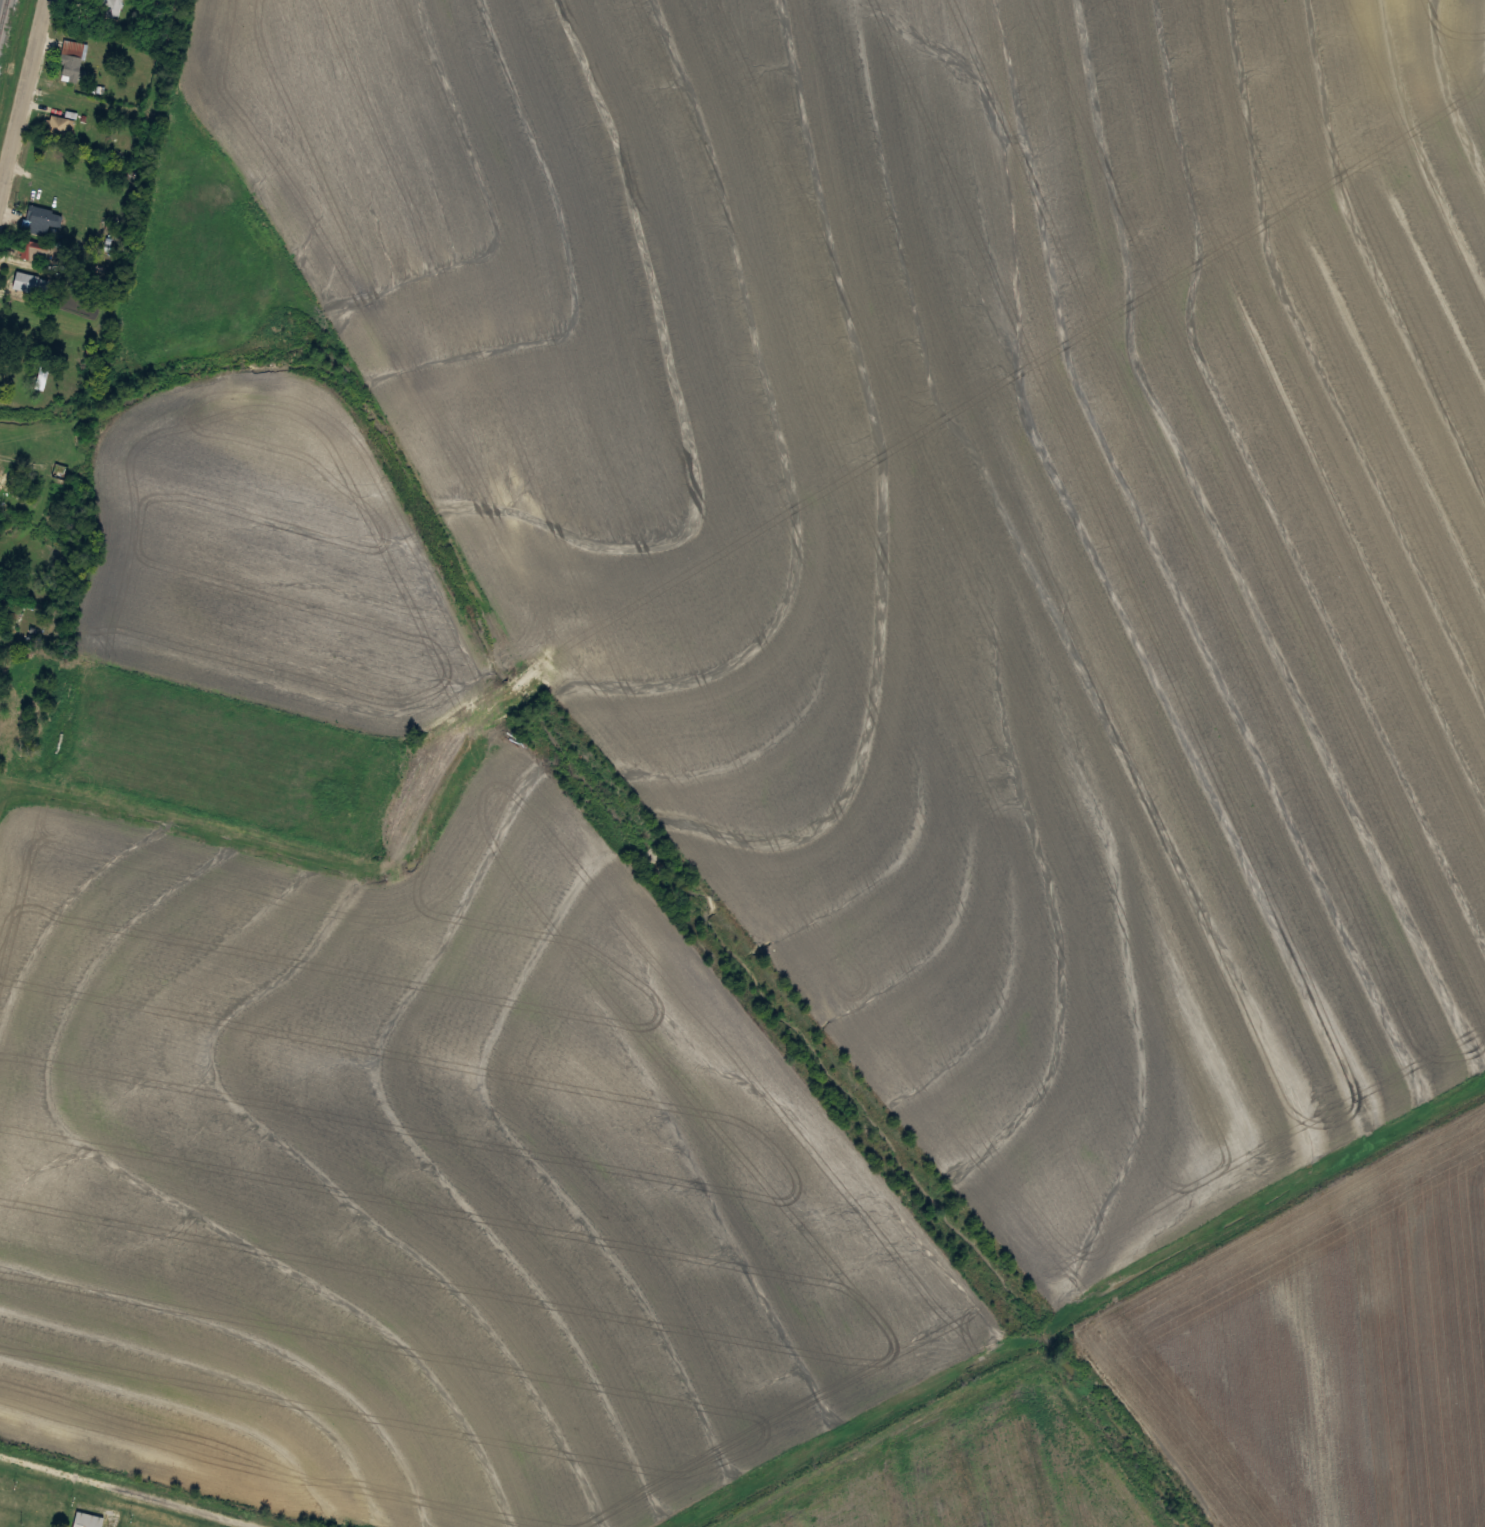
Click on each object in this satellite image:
railway: (2, 12)
building: (71, 56)
road: (24, 101)
road: (79, 108)
building: (61, 125)
building: (41, 219)
building: (31, 285)
road: (41, 313)
building: (44, 366)
building: (4, 480)
building: (2, 519)
crop: (976, 519)
crop: (272, 547)
building: (13, 722)
crop: (424, 1181)
crop: (1326, 1354)
crop: (978, 1469)
building: (88, 1520)

